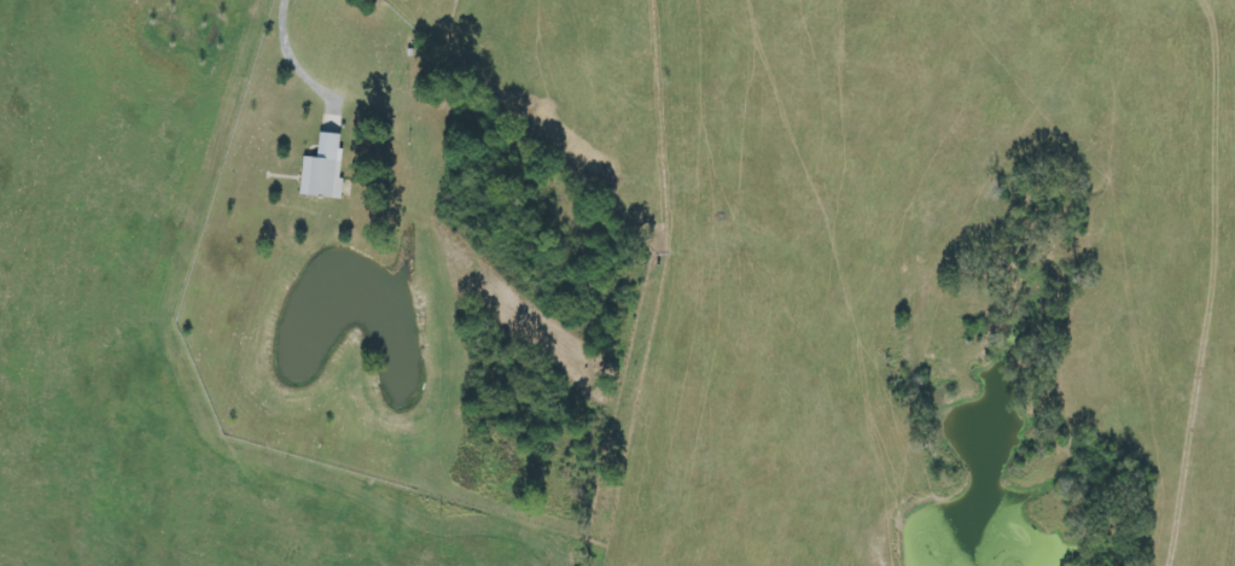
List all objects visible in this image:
building: (321, 169)

